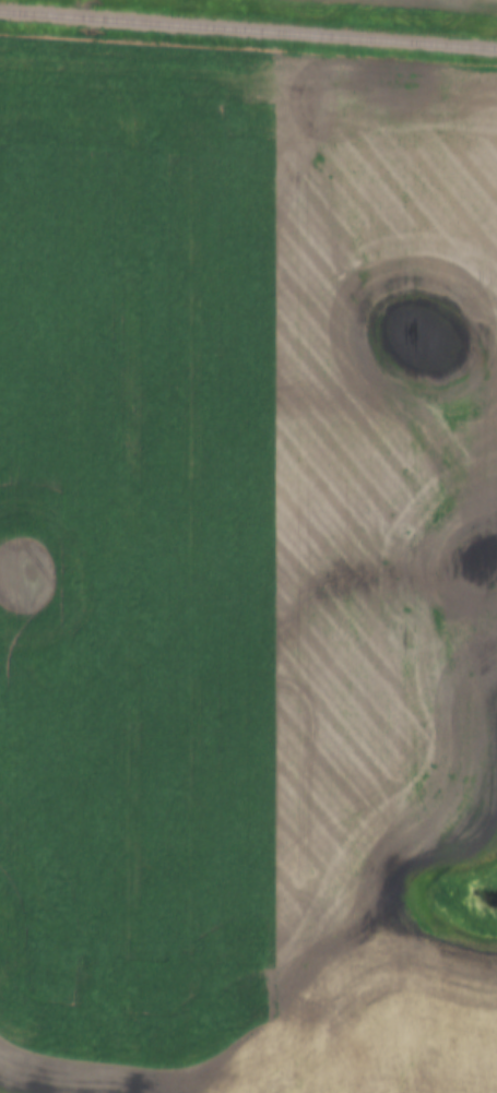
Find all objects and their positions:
railway: (248, 32)

